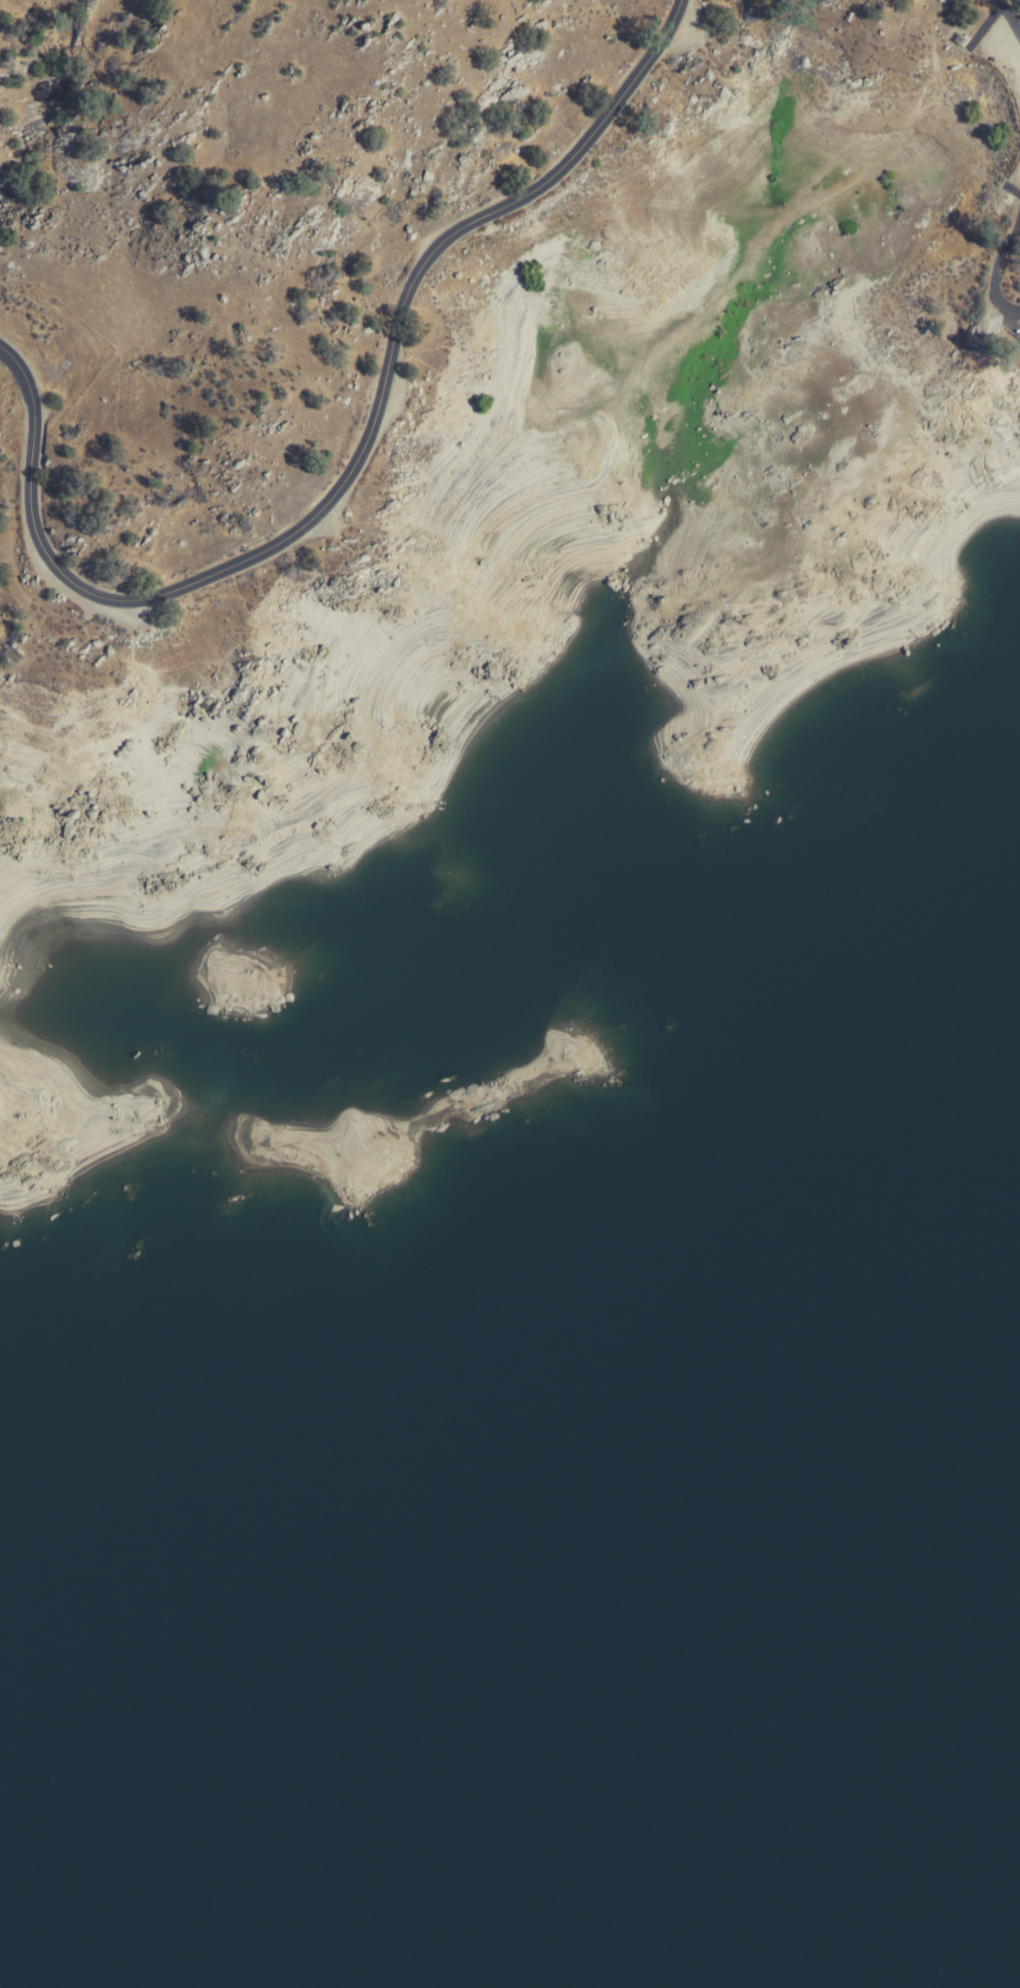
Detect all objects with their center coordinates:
road: (1010, 17)
road: (998, 271)
road: (354, 463)
park: (537, 1078)

